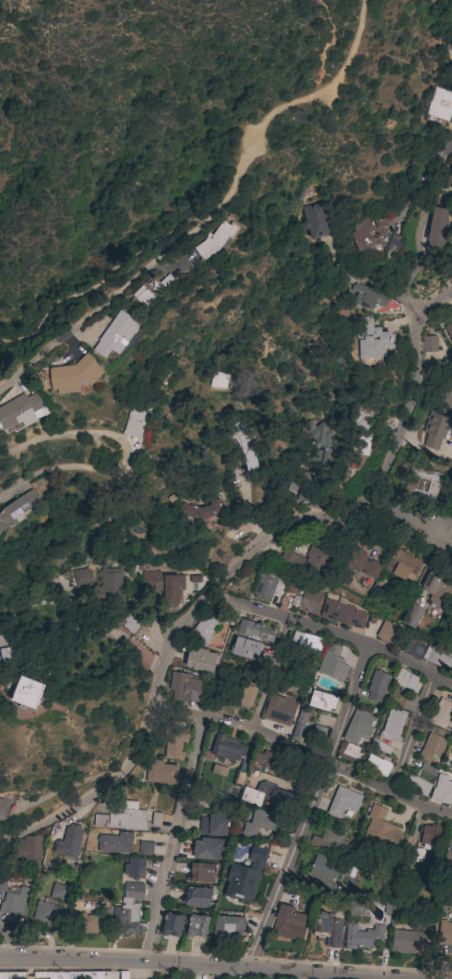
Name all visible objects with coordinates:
building: (450, 43)
building: (440, 105)
building: (449, 181)
road: (201, 189)
building: (315, 221)
road: (416, 224)
building: (436, 228)
building: (373, 235)
building: (215, 240)
road: (141, 273)
road: (376, 287)
building: (142, 296)
building: (367, 297)
road: (433, 301)
building: (449, 331)
building: (115, 335)
building: (371, 341)
building: (428, 345)
building: (74, 375)
building: (218, 380)
building: (447, 396)
building: (19, 412)
building: (362, 419)
building: (133, 424)
building: (436, 429)
building: (242, 442)
building: (362, 445)
road: (129, 458)
building: (312, 465)
building: (422, 485)
building: (18, 509)
building: (199, 510)
road: (410, 517)
building: (308, 557)
building: (358, 560)
building: (401, 566)
building: (81, 577)
road: (224, 579)
building: (110, 583)
building: (164, 584)
building: (268, 584)
building: (437, 589)
building: (305, 598)
building: (342, 614)
building: (411, 615)
building: (129, 624)
building: (203, 629)
building: (255, 630)
road: (333, 632)
building: (389, 633)
building: (306, 641)
building: (245, 648)
building: (413, 648)
building: (7, 651)
building: (436, 657)
building: (199, 660)
building: (332, 663)
building: (451, 671)
road: (272, 674)
building: (406, 680)
building: (376, 686)
building: (185, 688)
building: (26, 692)
building: (244, 694)
building: (320, 701)
building: (278, 709)
building: (441, 713)
building: (392, 725)
building: (299, 726)
building: (359, 727)
building: (451, 731)
road: (411, 732)
building: (316, 735)
building: (175, 743)
building: (431, 747)
building: (227, 748)
building: (382, 748)
building: (347, 751)
road: (306, 753)
building: (263, 760)
building: (377, 765)
building: (450, 767)
building: (217, 771)
building: (426, 771)
building: (160, 772)
building: (417, 785)
building: (442, 790)
building: (267, 795)
building: (343, 802)
road: (309, 804)
building: (3, 807)
building: (127, 817)
building: (154, 820)
building: (100, 821)
building: (263, 823)
building: (213, 825)
building: (378, 829)
building: (72, 836)
building: (430, 836)
road: (174, 839)
building: (328, 841)
building: (115, 843)
building: (145, 848)
building: (30, 849)
building: (207, 849)
building: (413, 854)
building: (448, 855)
building: (134, 868)
building: (327, 868)
building: (200, 873)
building: (245, 875)
building: (2, 885)
building: (58, 892)
building: (196, 897)
building: (14, 902)
building: (356, 907)
building: (128, 910)
building: (48, 915)
building: (290, 923)
building: (84, 924)
building: (172, 925)
building: (196, 926)
building: (228, 928)
building: (327, 930)
building: (445, 933)
building: (363, 937)
building: (408, 940)
road: (214, 963)
building: (12, 975)
building: (69, 975)
building: (168, 978)
building: (179, 978)

